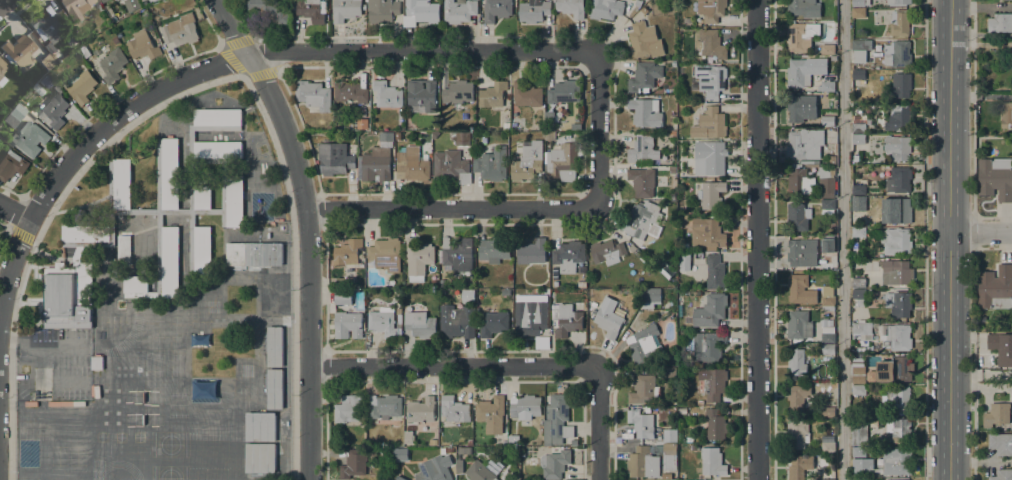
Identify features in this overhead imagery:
building: (146, 0)
road: (1, 1)
building: (104, 1)
building: (899, 1)
building: (860, 3)
building: (132, 5)
building: (571, 7)
building: (797, 7)
building: (76, 8)
building: (311, 9)
building: (605, 9)
building: (711, 9)
building: (270, 10)
building: (345, 10)
building: (382, 10)
building: (496, 10)
building: (644, 10)
building: (459, 11)
building: (533, 11)
building: (633, 11)
building: (420, 12)
building: (858, 12)
building: (686, 20)
building: (900, 23)
building: (1000, 23)
building: (48, 25)
building: (180, 30)
building: (801, 36)
building: (115, 40)
building: (644, 40)
building: (710, 44)
building: (142, 46)
building: (827, 49)
road: (420, 50)
building: (859, 50)
building: (20, 51)
building: (84, 51)
building: (897, 53)
building: (47, 61)
road: (233, 62)
building: (674, 63)
building: (113, 65)
building: (2, 67)
building: (804, 71)
building: (858, 74)
building: (644, 77)
building: (713, 81)
building: (901, 85)
building: (81, 86)
building: (826, 86)
road: (192, 87)
building: (350, 92)
building: (458, 92)
building: (564, 92)
building: (386, 94)
building: (492, 94)
building: (526, 94)
building: (313, 95)
building: (421, 95)
building: (801, 108)
building: (56, 110)
building: (645, 112)
building: (401, 113)
building: (14, 115)
building: (1006, 115)
building: (217, 117)
building: (899, 118)
building: (672, 119)
building: (827, 121)
building: (436, 123)
building: (710, 124)
building: (859, 124)
building: (359, 125)
building: (506, 126)
building: (329, 127)
building: (428, 134)
building: (435, 134)
building: (672, 134)
building: (549, 136)
building: (30, 138)
building: (462, 138)
building: (858, 139)
road: (85, 141)
building: (804, 144)
building: (898, 147)
building: (218, 150)
building: (642, 150)
building: (710, 157)
building: (334, 158)
building: (856, 158)
building: (376, 160)
building: (527, 162)
building: (563, 162)
building: (492, 164)
building: (11, 165)
building: (412, 165)
building: (451, 167)
building: (672, 170)
building: (169, 174)
building: (995, 178)
building: (899, 180)
building: (642, 182)
building: (799, 182)
building: (825, 183)
building: (110, 184)
building: (122, 184)
building: (858, 190)
building: (711, 194)
building: (672, 196)
building: (203, 197)
building: (235, 201)
building: (858, 201)
building: (828, 204)
road: (520, 209)
road: (13, 211)
building: (898, 211)
building: (797, 217)
building: (644, 220)
building: (833, 226)
road: (307, 229)
building: (709, 232)
building: (859, 232)
road: (980, 232)
road: (21, 235)
building: (89, 236)
road: (843, 239)
road: (756, 240)
road: (924, 240)
road: (948, 240)
building: (828, 241)
building: (895, 241)
building: (124, 249)
building: (494, 249)
building: (456, 251)
building: (202, 252)
building: (348, 252)
building: (384, 252)
building: (532, 252)
building: (607, 252)
building: (802, 252)
building: (636, 253)
building: (77, 254)
building: (254, 254)
building: (569, 256)
building: (418, 258)
building: (684, 261)
building: (170, 262)
building: (581, 269)
building: (666, 270)
building: (715, 272)
building: (895, 272)
building: (344, 282)
building: (434, 283)
building: (582, 283)
building: (859, 283)
building: (136, 284)
building: (995, 288)
building: (800, 289)
building: (545, 293)
building: (275, 294)
building: (859, 294)
building: (826, 295)
building: (69, 296)
building: (342, 296)
building: (650, 298)
building: (827, 303)
building: (899, 303)
building: (710, 311)
building: (399, 314)
building: (608, 317)
building: (530, 318)
building: (566, 320)
building: (457, 321)
building: (384, 322)
building: (493, 323)
building: (348, 324)
building: (420, 324)
building: (799, 325)
building: (863, 330)
building: (828, 335)
building: (898, 336)
building: (275, 346)
building: (644, 346)
building: (708, 346)
building: (1001, 347)
building: (828, 349)
building: (97, 362)
building: (797, 362)
road: (452, 365)
building: (894, 369)
building: (669, 373)
building: (859, 375)
building: (713, 384)
building: (275, 388)
building: (644, 390)
building: (859, 390)
building: (798, 397)
building: (898, 399)
building: (384, 406)
building: (525, 407)
building: (349, 409)
building: (454, 409)
building: (421, 410)
building: (828, 412)
building: (491, 414)
building: (996, 414)
building: (558, 419)
building: (641, 423)
road: (598, 425)
building: (716, 425)
building: (260, 426)
building: (899, 429)
building: (798, 434)
building: (670, 435)
building: (859, 435)
building: (408, 437)
building: (513, 439)
building: (434, 442)
building: (469, 442)
building: (1001, 443)
building: (828, 446)
building: (450, 450)
building: (464, 450)
building: (443, 451)
building: (859, 452)
building: (400, 454)
building: (670, 457)
building: (260, 458)
building: (897, 461)
building: (712, 462)
building: (555, 463)
building: (643, 463)
building: (353, 464)
building: (459, 466)
building: (492, 466)
building: (799, 466)
building: (863, 467)
building: (434, 469)
building: (480, 472)
building: (1002, 475)
building: (400, 478)
building: (828, 479)
building: (862, 479)
building: (902, 479)

